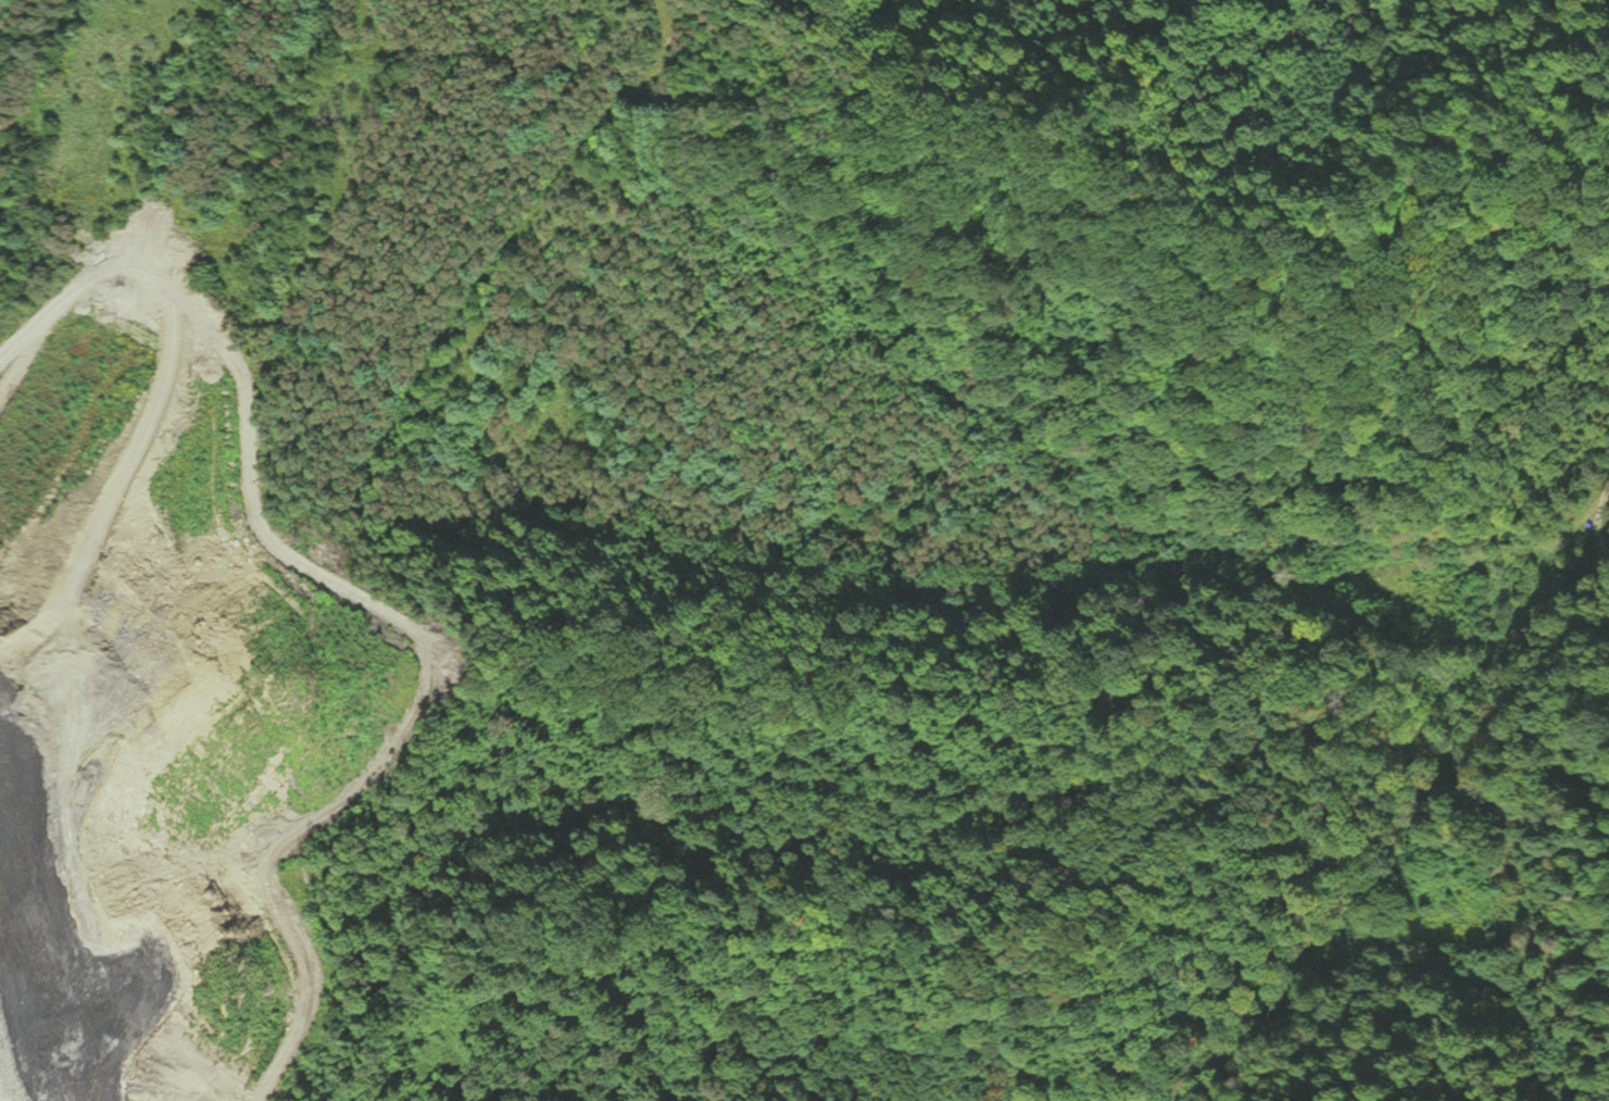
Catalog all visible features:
road: (1519, 514)
road: (1451, 664)
quarry: (163, 693)

